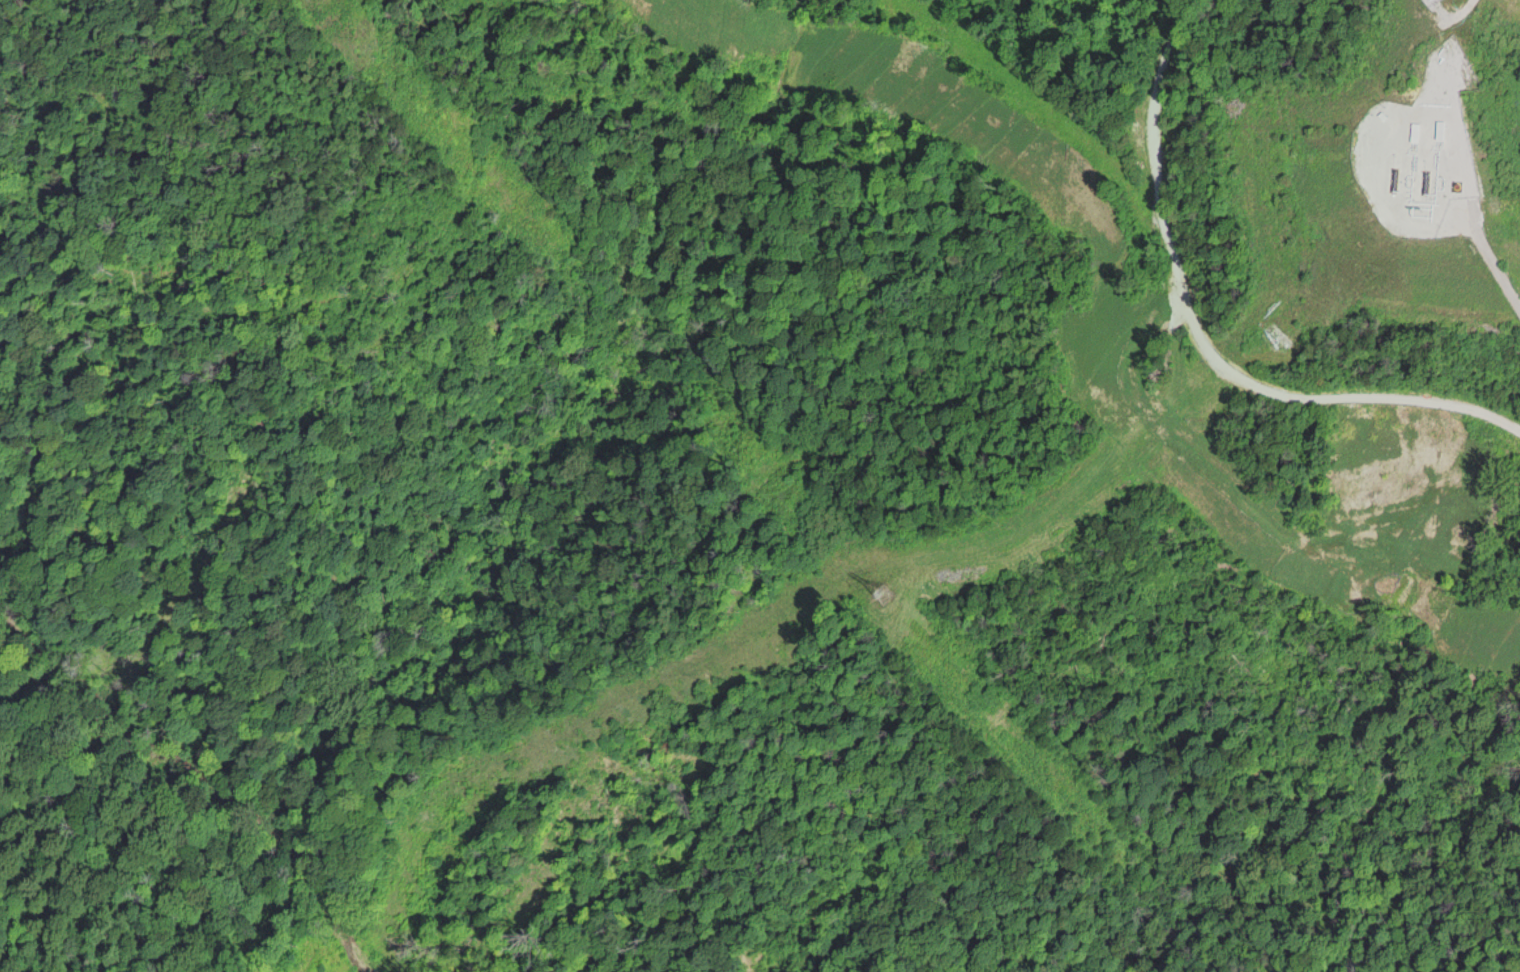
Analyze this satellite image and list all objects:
road: (1453, 158)
road: (1195, 339)

